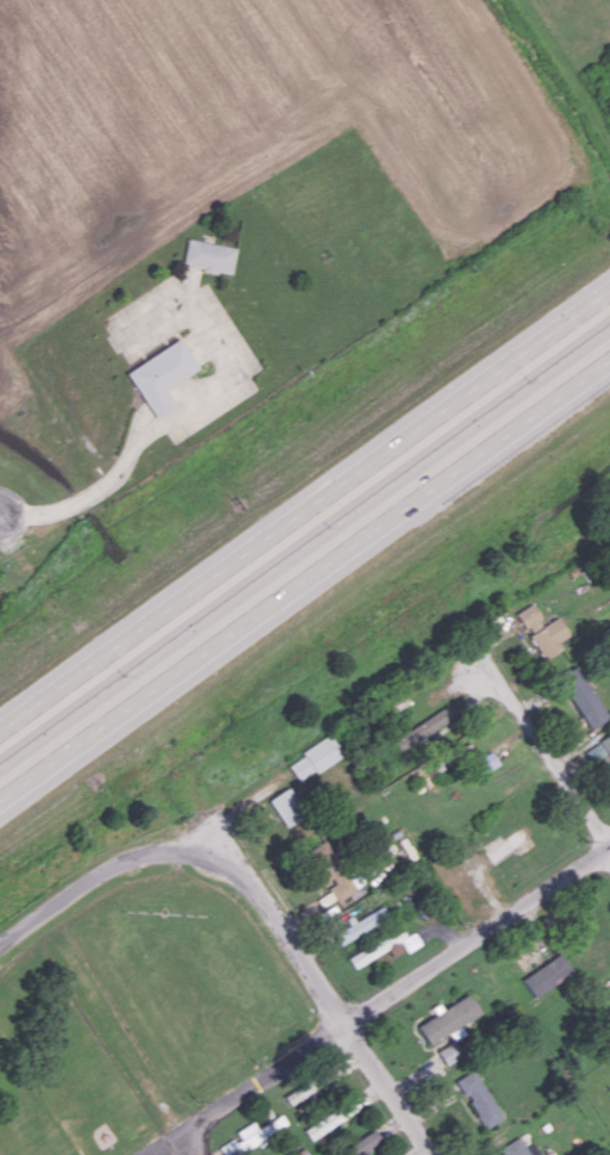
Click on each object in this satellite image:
building: (211, 255)
road: (219, 344)
parking lot: (245, 359)
building: (162, 374)
road: (102, 485)
road: (304, 502)
road: (13, 510)
road: (304, 584)
building: (543, 631)
building: (404, 691)
building: (583, 696)
building: (424, 728)
building: (606, 744)
road: (543, 746)
building: (315, 758)
building: (487, 760)
building: (287, 806)
building: (330, 870)
road: (81, 884)
building: (361, 925)
building: (384, 946)
building: (547, 975)
road: (306, 977)
road: (375, 1001)
building: (449, 1018)
building: (449, 1052)
building: (303, 1089)
building: (479, 1098)
building: (330, 1119)
building: (254, 1135)
road: (191, 1142)
building: (365, 1142)
building: (519, 1148)
building: (303, 1153)
building: (404, 1154)

